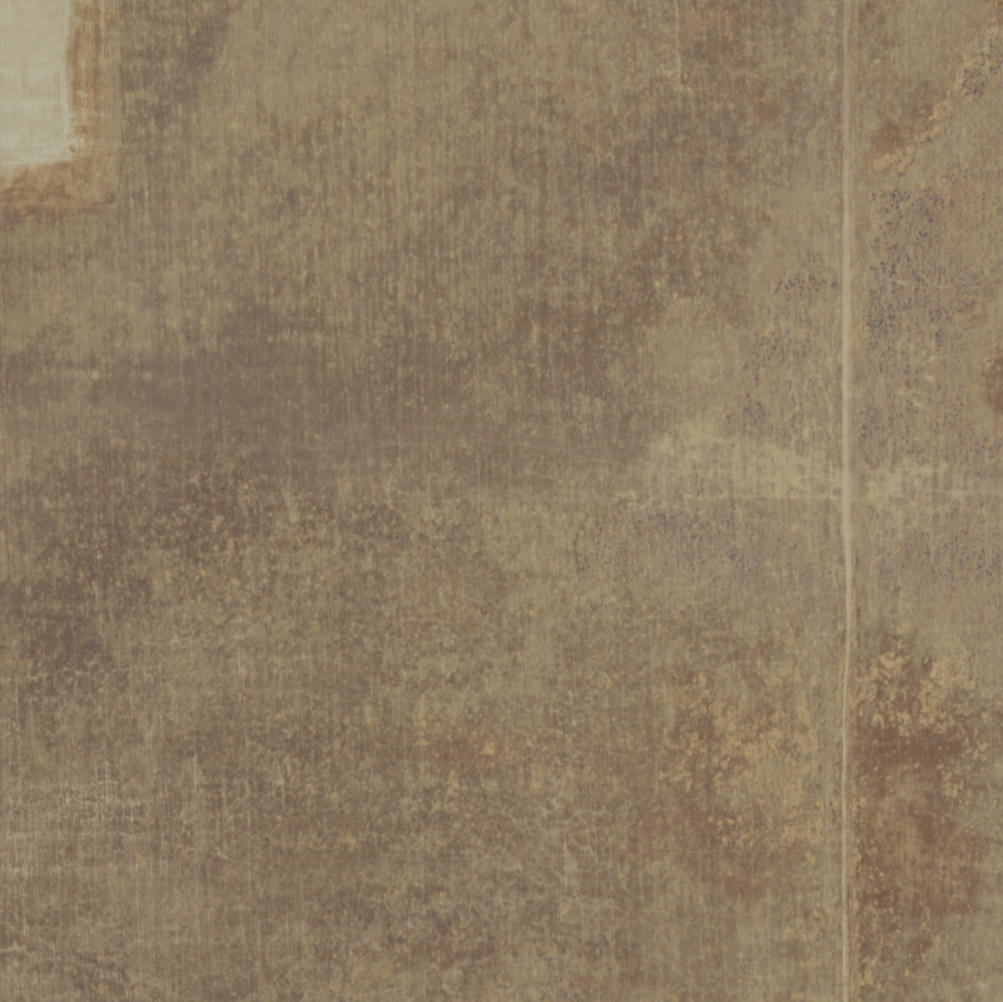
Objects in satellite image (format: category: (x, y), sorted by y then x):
road: (823, 501)

